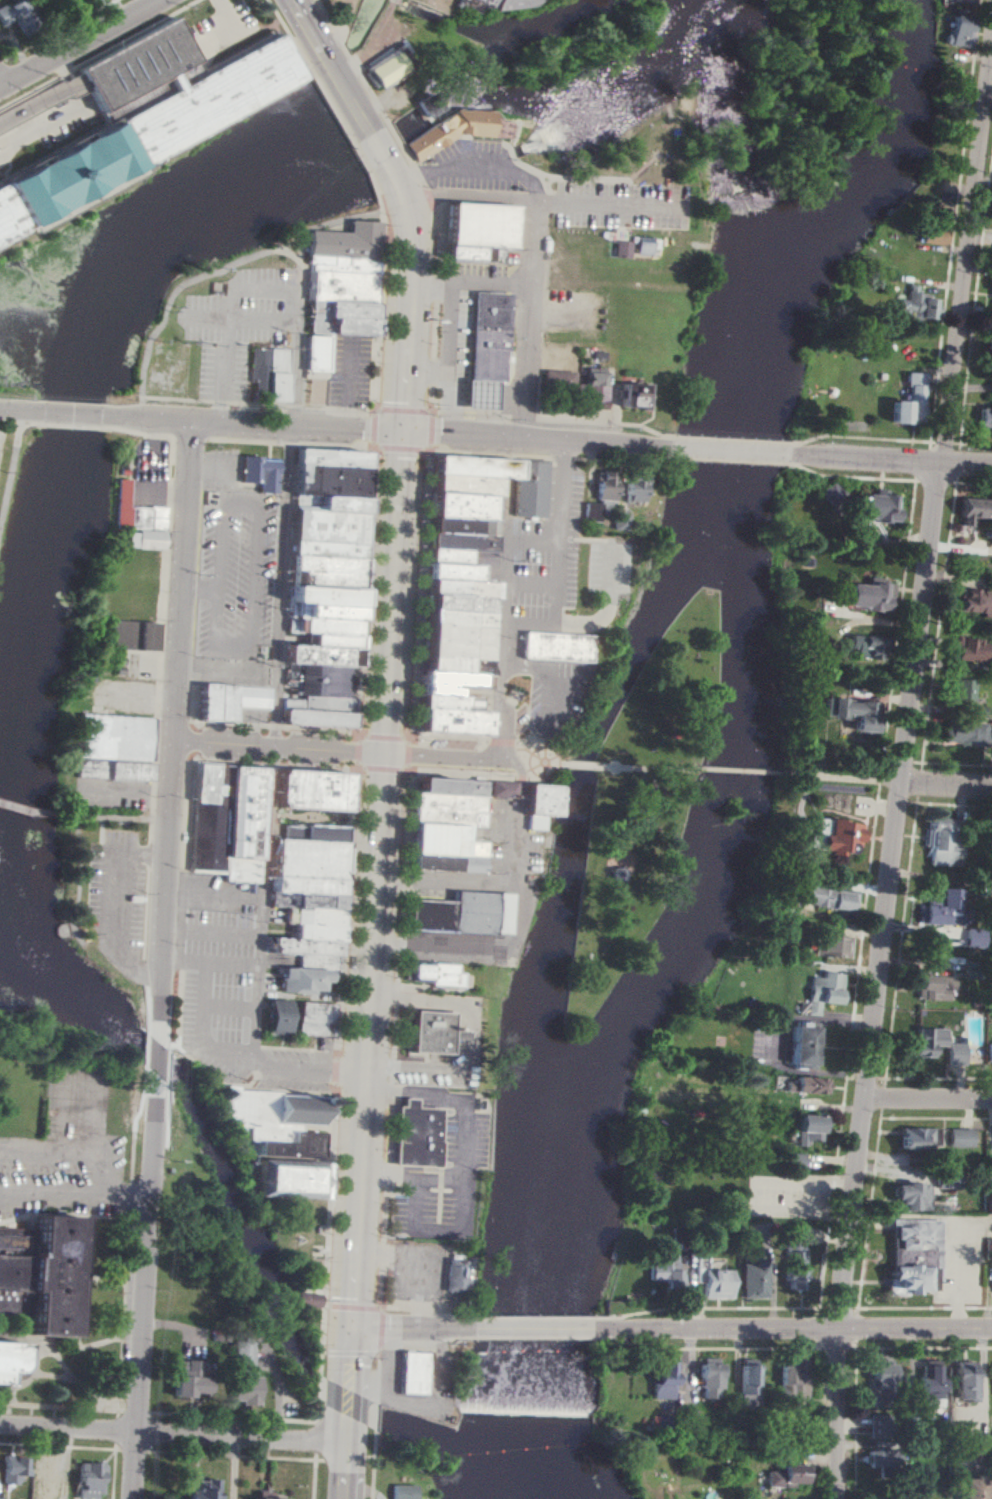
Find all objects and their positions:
building: (962, 1)
building: (515, 4)
road: (218, 5)
building: (16, 16)
road: (302, 18)
road: (337, 27)
road: (57, 31)
road: (228, 32)
building: (959, 32)
parking lot: (222, 33)
road: (135, 34)
road: (78, 44)
road: (294, 44)
road: (371, 44)
road: (342, 49)
building: (135, 67)
parking lot: (135, 67)
building: (384, 68)
road: (64, 72)
road: (65, 75)
road: (1, 83)
road: (71, 89)
road: (28, 91)
road: (350, 97)
road: (29, 109)
river: (720, 117)
parking lot: (51, 123)
road: (54, 124)
road: (387, 124)
building: (458, 130)
road: (345, 131)
building: (143, 137)
road: (5, 155)
road: (413, 169)
road: (394, 182)
river: (750, 196)
road: (466, 197)
road: (698, 199)
road: (430, 200)
river: (182, 206)
road: (610, 206)
parking lot: (622, 206)
road: (695, 208)
building: (478, 229)
park: (624, 229)
river: (764, 237)
building: (348, 242)
road: (440, 242)
building: (644, 245)
building: (622, 249)
building: (344, 265)
road: (298, 267)
road: (967, 269)
road: (206, 274)
road: (469, 282)
road: (520, 283)
building: (345, 287)
road: (437, 287)
road: (261, 290)
building: (991, 290)
road: (422, 294)
building: (919, 305)
building: (342, 318)
road: (402, 318)
road: (203, 319)
road: (526, 319)
road: (224, 320)
parking lot: (462, 324)
parking lot: (238, 325)
road: (435, 333)
road: (456, 336)
building: (489, 337)
building: (990, 343)
building: (315, 353)
road: (344, 369)
park: (168, 370)
building: (260, 370)
road: (418, 374)
road: (434, 375)
building: (281, 376)
parking lot: (341, 377)
road: (294, 379)
building: (557, 381)
road: (454, 382)
building: (591, 389)
building: (485, 394)
building: (634, 396)
road: (322, 399)
road: (433, 401)
building: (908, 402)
road: (374, 407)
road: (17, 409)
road: (376, 409)
road: (403, 410)
road: (430, 410)
road: (217, 412)
road: (71, 413)
road: (374, 413)
road: (18, 415)
building: (985, 417)
road: (453, 420)
road: (251, 425)
road: (28, 426)
road: (70, 426)
road: (18, 428)
road: (374, 429)
road: (7, 431)
road: (431, 431)
traffic signals: (396, 433)
road: (532, 438)
parking lot: (1, 440)
road: (373, 449)
road: (402, 450)
road: (727, 450)
road: (429, 452)
road: (564, 452)
building: (333, 458)
road: (888, 459)
building: (475, 466)
road: (10, 469)
building: (261, 473)
park: (7, 475)
building: (332, 481)
building: (464, 484)
building: (604, 485)
building: (532, 488)
building: (635, 488)
building: (829, 494)
building: (333, 503)
building: (461, 505)
building: (873, 508)
building: (973, 509)
building: (591, 511)
building: (135, 512)
building: (620, 521)
building: (330, 526)
building: (453, 526)
building: (143, 539)
building: (458, 542)
road: (558, 547)
building: (329, 549)
building: (445, 556)
road: (515, 558)
road: (277, 567)
parking lot: (609, 569)
road: (610, 569)
building: (328, 571)
building: (451, 571)
parking lot: (240, 579)
road: (236, 584)
road: (228, 588)
building: (460, 588)
building: (866, 595)
road: (161, 596)
building: (975, 601)
building: (335, 602)
building: (460, 604)
parking lot: (544, 614)
building: (458, 618)
road: (594, 623)
building: (327, 626)
building: (145, 636)
building: (342, 640)
building: (458, 642)
building: (861, 646)
building: (559, 648)
building: (969, 649)
building: (329, 655)
building: (455, 666)
road: (225, 673)
building: (326, 680)
building: (450, 680)
road: (521, 682)
building: (438, 691)
building: (960, 691)
building: (226, 701)
building: (447, 703)
building: (320, 704)
road: (507, 710)
building: (851, 713)
building: (323, 719)
building: (453, 722)
road: (173, 729)
building: (966, 735)
road: (363, 737)
river: (740, 737)
road: (383, 738)
road: (405, 738)
road: (360, 740)
road: (408, 741)
building: (113, 747)
road: (278, 747)
road: (505, 749)
road: (357, 752)
road: (408, 755)
road: (444, 757)
road: (522, 762)
road: (550, 764)
road: (588, 766)
road: (652, 768)
road: (360, 769)
road: (408, 769)
road: (382, 770)
road: (406, 771)
road: (741, 772)
road: (848, 777)
road: (947, 782)
building: (211, 784)
road: (524, 784)
building: (455, 787)
road: (112, 790)
building: (318, 790)
building: (506, 790)
river: (588, 790)
road: (159, 791)
parking lot: (112, 794)
building: (543, 801)
building: (453, 809)
park: (644, 809)
road: (28, 811)
road: (275, 815)
road: (113, 818)
road: (408, 821)
building: (534, 823)
building: (252, 824)
building: (218, 827)
building: (324, 834)
building: (836, 836)
building: (445, 840)
road: (511, 842)
building: (942, 843)
road: (156, 855)
building: (307, 860)
building: (456, 861)
road: (390, 878)
road: (349, 879)
road: (370, 879)
road: (403, 883)
building: (304, 886)
parking lot: (472, 886)
road: (264, 893)
road: (887, 896)
building: (829, 898)
parking lot: (117, 899)
road: (213, 900)
building: (306, 902)
road: (114, 904)
road: (522, 911)
road: (400, 914)
building: (467, 914)
building: (318, 918)
road: (168, 931)
building: (317, 933)
road: (217, 934)
road: (399, 941)
road: (389, 945)
building: (833, 946)
building: (303, 947)
road: (167, 960)
road: (215, 963)
building: (314, 963)
road: (398, 967)
building: (444, 976)
road: (150, 979)
building: (304, 980)
road: (256, 985)
parking lot: (231, 987)
building: (934, 987)
building: (819, 993)
road: (396, 995)
road: (309, 998)
road: (341, 1001)
road: (387, 1001)
road: (227, 1009)
building: (282, 1017)
building: (317, 1019)
road: (200, 1032)
road: (339, 1032)
building: (428, 1032)
road: (394, 1034)
parking lot: (471, 1035)
building: (460, 1036)
building: (925, 1041)
building: (801, 1045)
road: (470, 1046)
building: (988, 1053)
building: (955, 1054)
road: (157, 1059)
road: (392, 1068)
road: (379, 1069)
road: (290, 1071)
road: (336, 1071)
road: (343, 1074)
road: (391, 1079)
building: (804, 1085)
road: (390, 1096)
road: (420, 1097)
road: (927, 1099)
road: (442, 1104)
building: (276, 1120)
building: (807, 1129)
road: (389, 1136)
building: (416, 1137)
road: (441, 1138)
building: (916, 1138)
building: (959, 1138)
building: (794, 1160)
road: (440, 1170)
road: (440, 1174)
road: (387, 1175)
road: (464, 1175)
road: (409, 1176)
building: (988, 1176)
building: (946, 1179)
building: (296, 1181)
road: (440, 1182)
parking lot: (447, 1188)
road: (753, 1194)
road: (75, 1195)
building: (911, 1196)
building: (988, 1202)
road: (420, 1203)
road: (439, 1206)
road: (385, 1216)
river: (245, 1219)
road: (438, 1227)
road: (327, 1230)
road: (441, 1231)
park: (294, 1236)
park: (197, 1245)
building: (988, 1247)
road: (382, 1256)
building: (912, 1256)
road: (369, 1258)
building: (792, 1258)
road: (421, 1263)
building: (665, 1267)
building: (41, 1272)
parking lot: (415, 1274)
building: (455, 1277)
building: (711, 1279)
building: (753, 1279)
road: (380, 1289)
road: (144, 1290)
building: (307, 1300)
road: (326, 1307)
road: (380, 1307)
road: (353, 1308)
road: (421, 1315)
traffic signals: (351, 1327)
road: (412, 1328)
road: (531, 1329)
road: (715, 1330)
road: (917, 1330)
road: (380, 1332)
road: (323, 1353)
road: (351, 1354)
building: (239, 1357)
road: (349, 1357)
building: (8, 1358)
building: (419, 1374)
building: (880, 1374)
building: (708, 1377)
building: (187, 1378)
road: (378, 1378)
building: (792, 1379)
building: (662, 1380)
building: (964, 1381)
building: (747, 1382)
building: (931, 1386)
building: (243, 1390)
road: (319, 1390)
building: (875, 1399)
road: (347, 1402)
road: (317, 1415)
road: (839, 1415)
road: (377, 1418)
building: (878, 1426)
road: (172, 1435)
road: (316, 1439)
road: (345, 1458)
building: (880, 1459)
road: (62, 1465)
road: (374, 1466)
building: (13, 1470)
road: (314, 1476)
building: (88, 1480)
building: (198, 1488)
building: (972, 1488)
building: (401, 1491)
building: (261, 1494)
building: (0, 1498)

